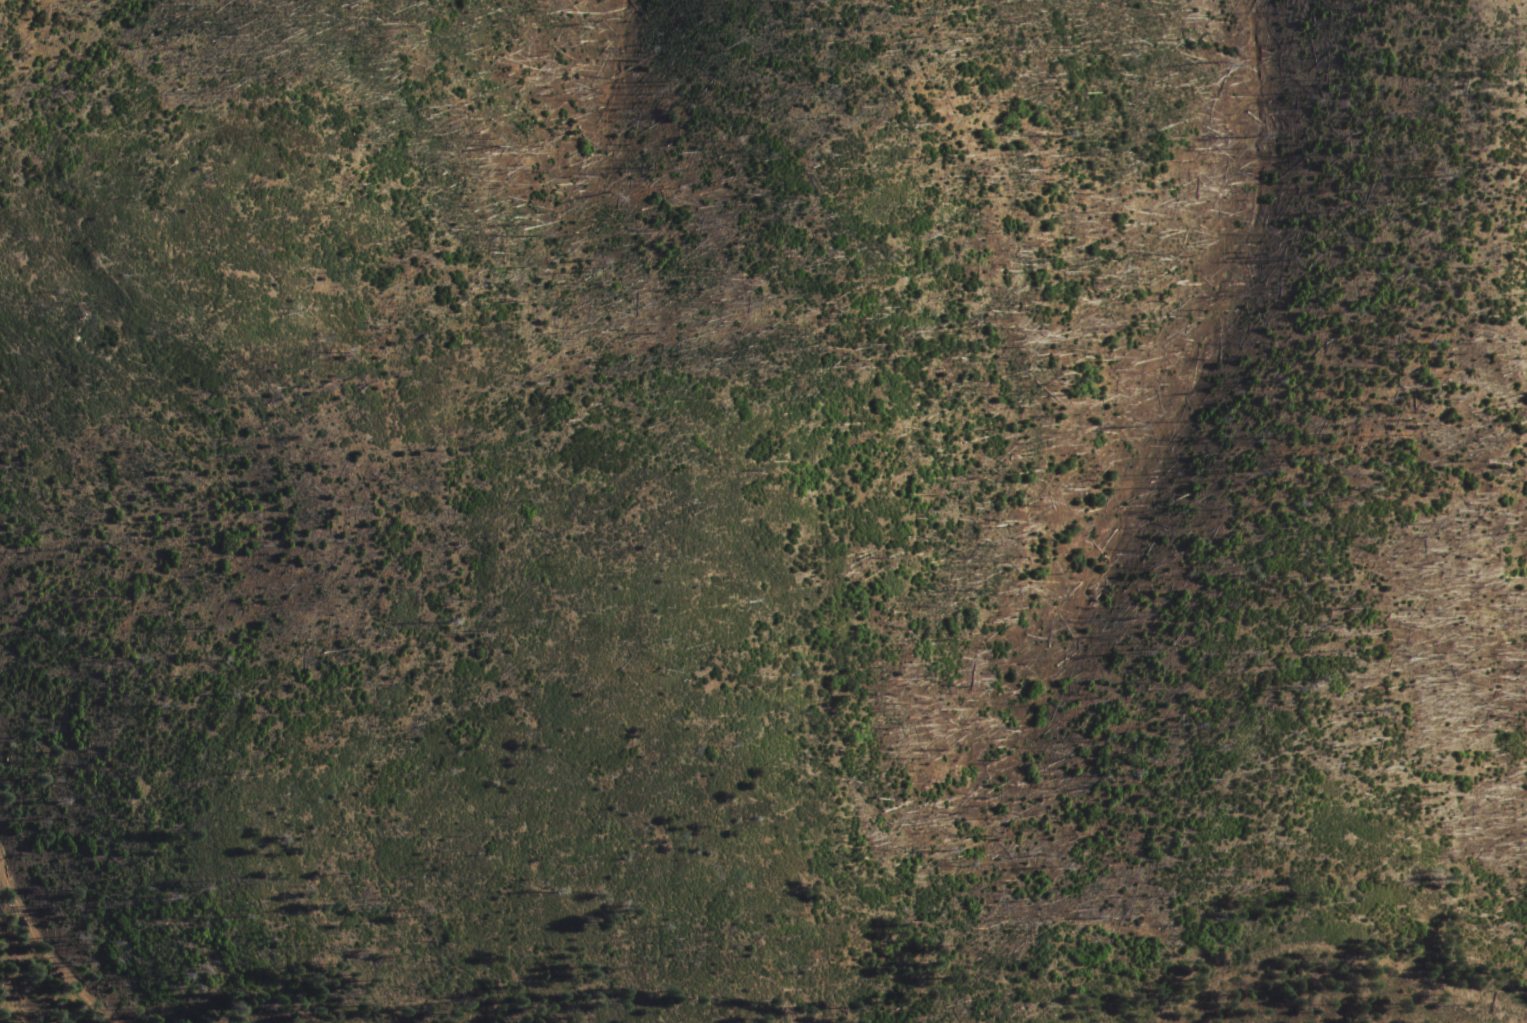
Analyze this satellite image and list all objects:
road: (46, 949)

